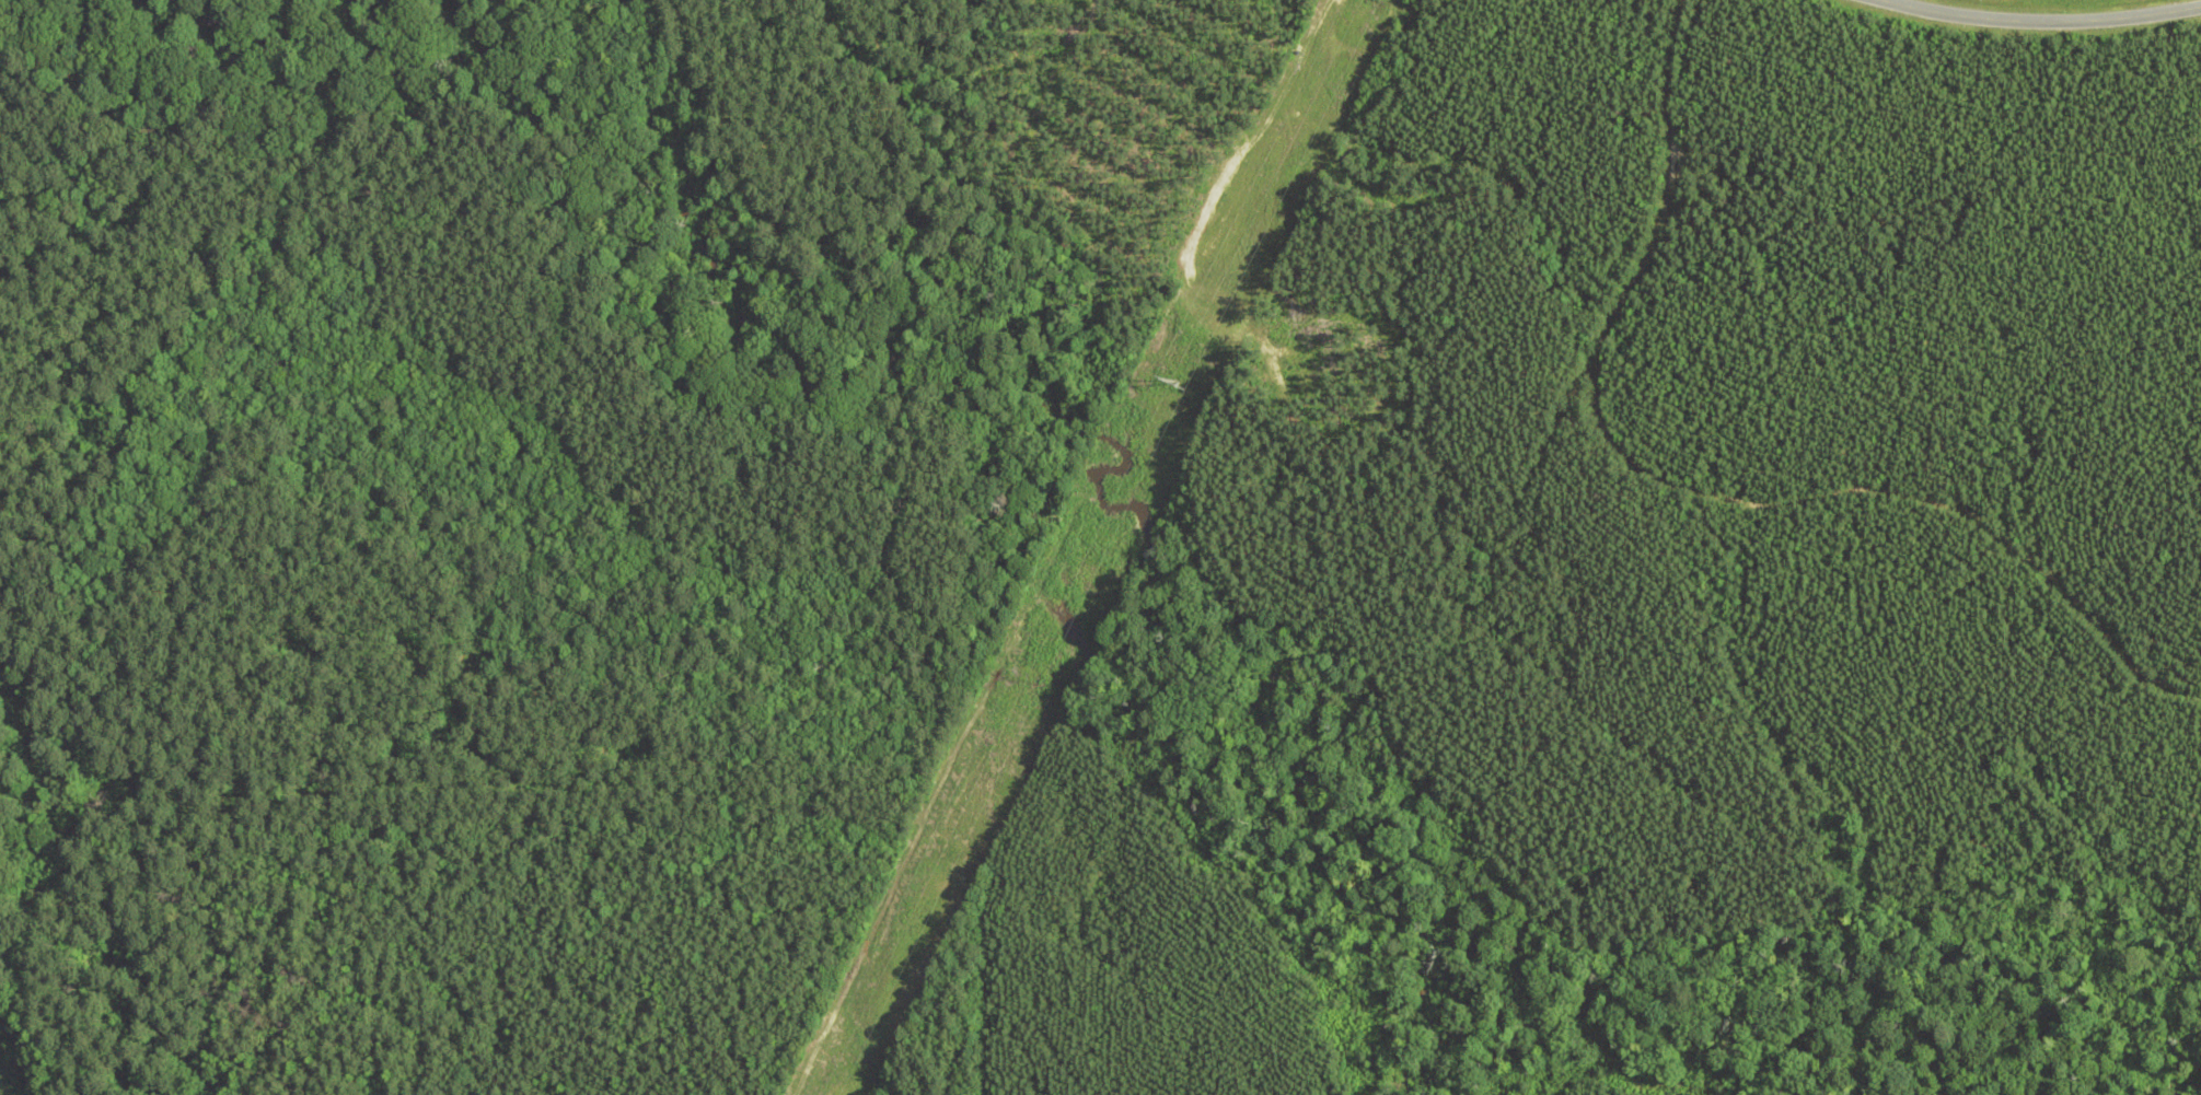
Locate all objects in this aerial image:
road: (2042, 21)
power tower: (1174, 383)

